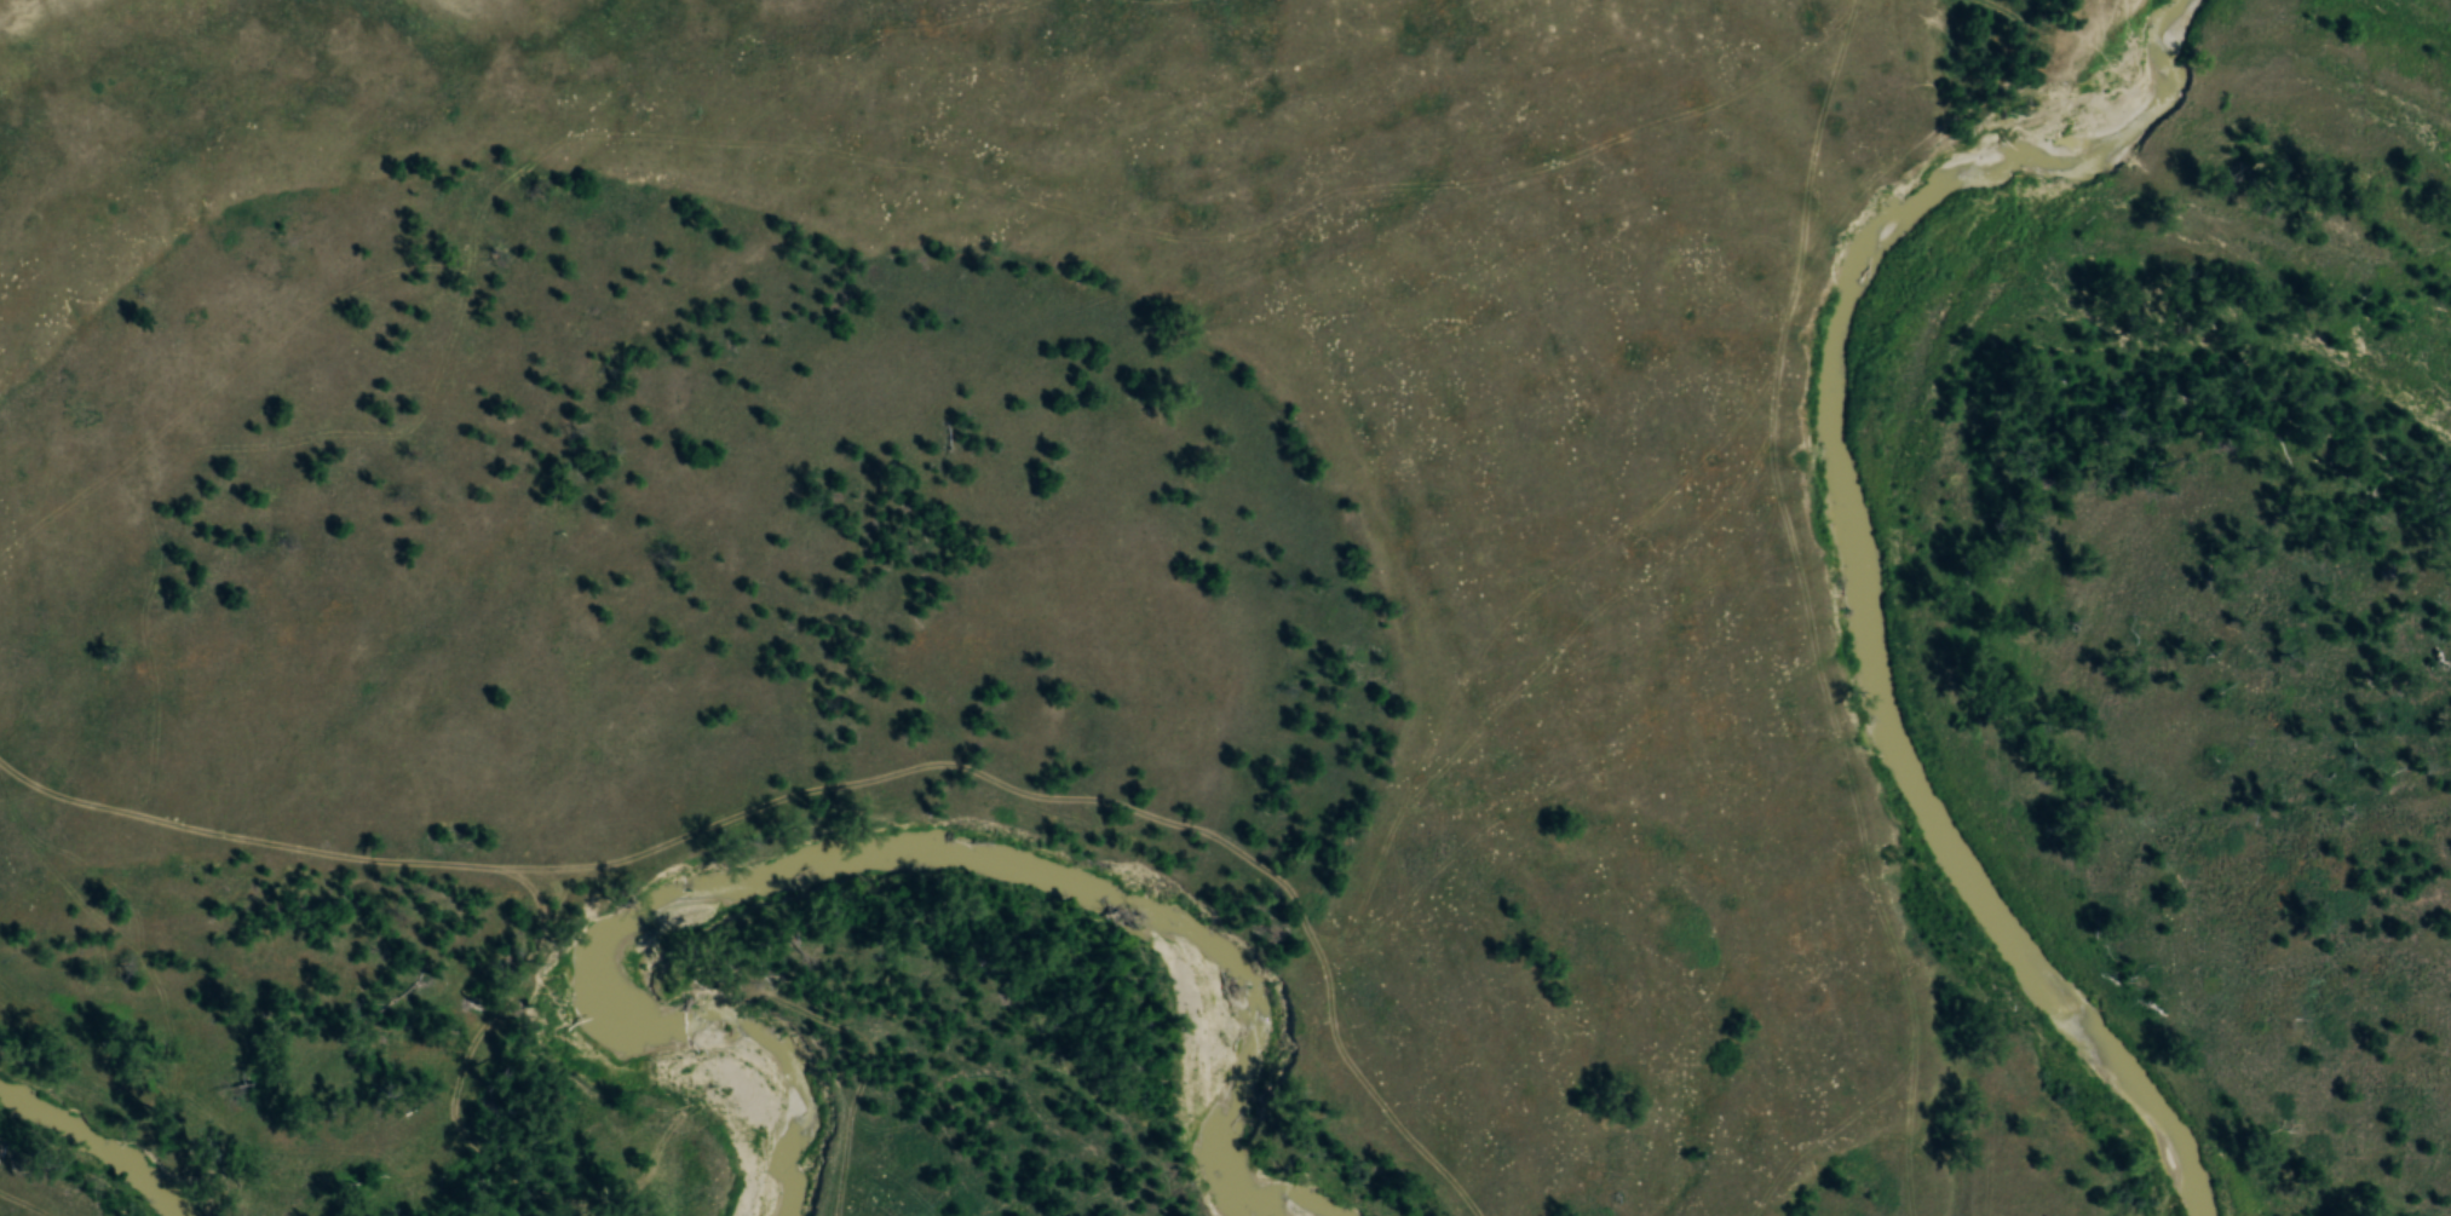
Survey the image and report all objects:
river: (1860, 549)
river: (812, 859)
road: (84, 929)
river: (94, 1140)

